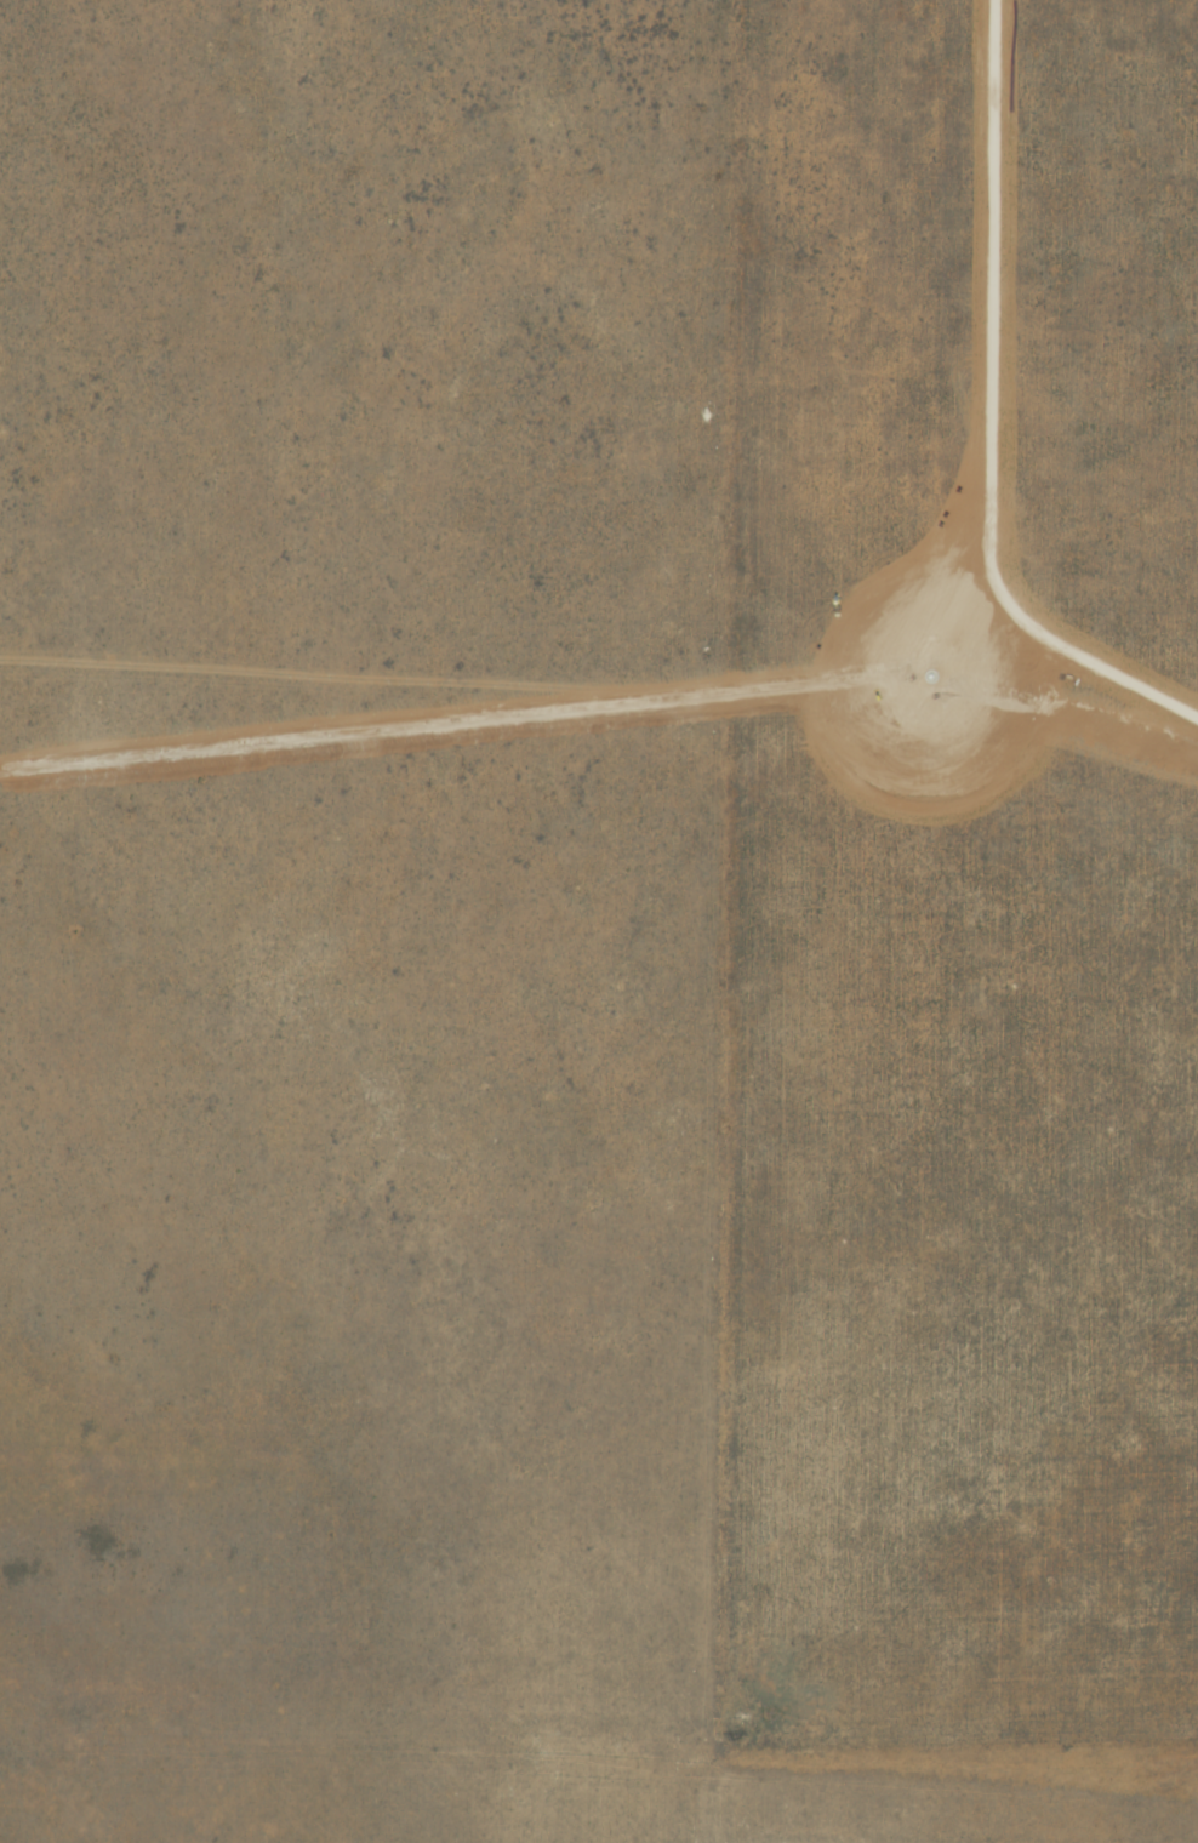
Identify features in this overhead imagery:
wind turbine: (923, 664)

